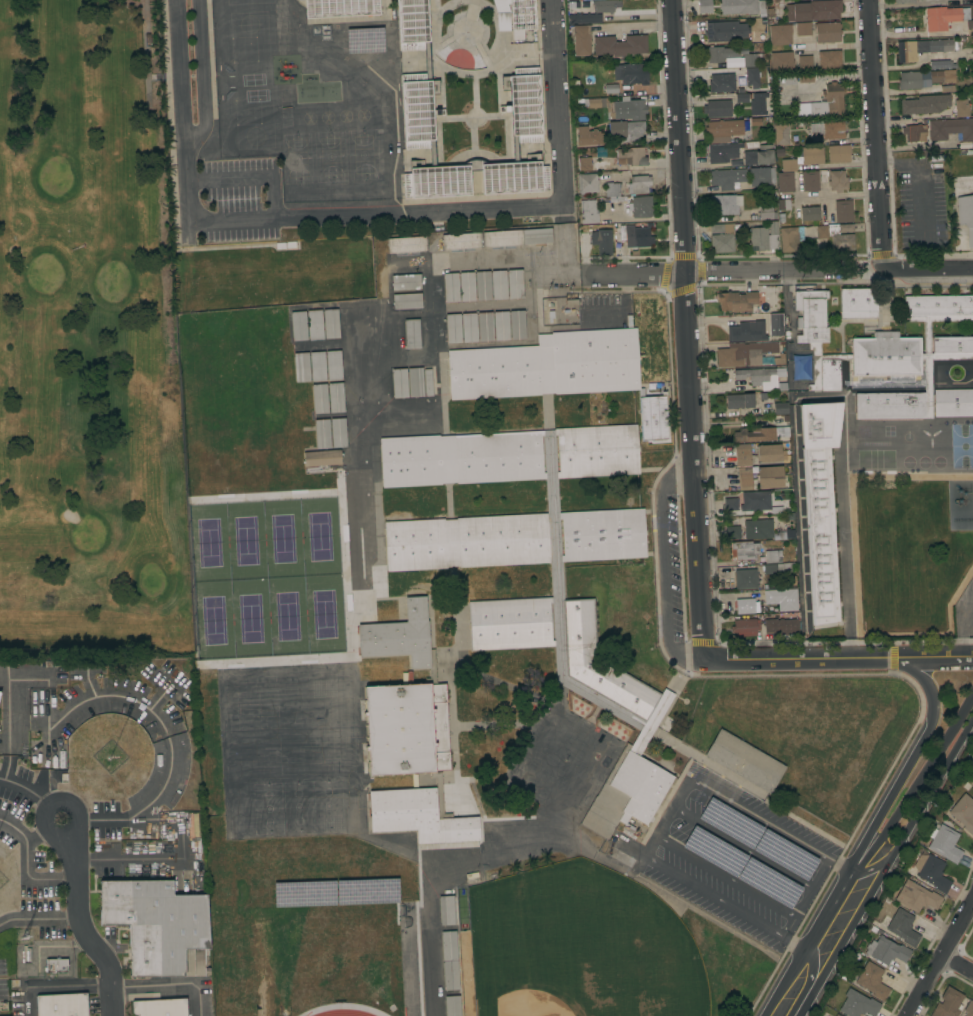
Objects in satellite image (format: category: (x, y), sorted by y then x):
building: (904, 1)
building: (959, 2)
building: (606, 6)
building: (704, 6)
building: (739, 7)
building: (340, 8)
building: (814, 11)
building: (523, 14)
building: (946, 18)
building: (585, 19)
building: (803, 29)
building: (725, 31)
building: (828, 32)
building: (780, 34)
building: (581, 40)
building: (939, 45)
building: (619, 46)
building: (907, 51)
building: (719, 54)
building: (752, 59)
building: (828, 60)
building: (781, 62)
road: (920, 62)
building: (805, 63)
building: (943, 64)
building: (633, 73)
road: (204, 75)
building: (752, 77)
building: (806, 78)
building: (924, 78)
building: (721, 83)
building: (611, 88)
building: (416, 90)
building: (741, 96)
road: (558, 103)
building: (594, 103)
building: (759, 103)
building: (823, 104)
building: (925, 104)
building: (962, 108)
building: (629, 109)
building: (717, 109)
building: (951, 129)
building: (626, 130)
building: (722, 130)
building: (828, 130)
building: (915, 132)
road: (875, 133)
building: (781, 134)
road: (677, 136)
building: (589, 137)
road: (914, 146)
building: (723, 152)
building: (838, 154)
building: (812, 155)
building: (759, 156)
park: (331, 157)
building: (631, 157)
building: (585, 164)
building: (788, 165)
road: (252, 175)
building: (761, 176)
building: (726, 178)
building: (810, 181)
building: (837, 181)
building: (785, 182)
building: (587, 183)
building: (638, 184)
building: (964, 188)
building: (613, 192)
road: (837, 195)
parking lot: (240, 199)
building: (725, 204)
building: (783, 205)
building: (640, 206)
building: (843, 211)
building: (589, 212)
building: (767, 213)
building: (810, 214)
building: (966, 216)
road: (268, 217)
building: (827, 217)
building: (815, 232)
building: (537, 236)
building: (837, 236)
building: (634, 237)
building: (502, 238)
building: (722, 238)
building: (758, 238)
building: (790, 239)
building: (602, 240)
building: (461, 241)
building: (407, 245)
road: (928, 267)
road: (715, 271)
building: (406, 282)
building: (515, 284)
building: (499, 285)
building: (483, 286)
building: (467, 287)
building: (451, 288)
building: (407, 301)
building: (736, 301)
building: (858, 303)
building: (938, 308)
building: (331, 324)
building: (315, 325)
building: (517, 325)
building: (775, 325)
building: (299, 326)
building: (485, 326)
building: (501, 326)
building: (469, 327)
building: (530, 327)
building: (453, 329)
building: (746, 332)
building: (412, 334)
park: (88, 338)
building: (818, 343)
building: (947, 347)
building: (744, 354)
building: (885, 355)
building: (333, 365)
building: (548, 366)
building: (318, 367)
building: (802, 367)
building: (302, 368)
building: (759, 379)
building: (416, 382)
building: (427, 382)
building: (399, 383)
building: (336, 397)
building: (320, 399)
building: (739, 401)
building: (897, 402)
building: (953, 403)
building: (780, 408)
building: (653, 416)
building: (338, 433)
building: (322, 434)
building: (760, 434)
building: (961, 445)
building: (926, 448)
building: (768, 454)
building: (743, 455)
building: (939, 455)
building: (509, 456)
building: (322, 458)
building: (961, 461)
road: (693, 466)
building: (769, 477)
building: (745, 478)
building: (962, 480)
building: (962, 499)
building: (756, 501)
building: (819, 501)
building: (730, 504)
building: (963, 515)
building: (764, 530)
building: (966, 531)
building: (733, 532)
park: (280, 536)
park: (320, 536)
building: (515, 538)
park: (208, 542)
park: (246, 542)
building: (969, 549)
building: (744, 551)
building: (773, 556)
road: (664, 567)
building: (773, 569)
building: (745, 579)
building: (782, 599)
building: (747, 606)
park: (324, 613)
park: (288, 617)
park: (249, 619)
park: (212, 622)
road: (963, 622)
building: (780, 625)
building: (745, 627)
building: (402, 638)
road: (847, 642)
road: (928, 655)
road: (793, 660)
building: (584, 690)
road: (91, 696)
road: (8, 726)
road: (914, 752)
building: (411, 761)
building: (745, 761)
road: (920, 779)
road: (684, 789)
road: (34, 794)
road: (927, 798)
park: (328, 805)
park: (297, 806)
road: (140, 808)
park: (267, 808)
building: (964, 813)
road: (667, 821)
building: (195, 825)
road: (42, 829)
building: (142, 835)
building: (113, 840)
building: (137, 843)
building: (944, 843)
road: (651, 848)
building: (137, 849)
parking lot: (735, 857)
road: (29, 862)
building: (140, 872)
building: (932, 872)
building: (916, 897)
building: (447, 911)
road: (38, 918)
road: (82, 921)
building: (157, 925)
road: (788, 926)
building: (903, 927)
road: (826, 940)
park: (584, 945)
building: (886, 951)
road: (942, 958)
building: (450, 961)
road: (958, 964)
building: (58, 967)
building: (872, 981)
road: (167, 984)
road: (57, 986)
building: (948, 1003)
building: (62, 1005)
building: (858, 1005)
building: (452, 1006)
building: (160, 1008)
building: (969, 1009)
track: (343, 1013)
building: (836, 1015)

